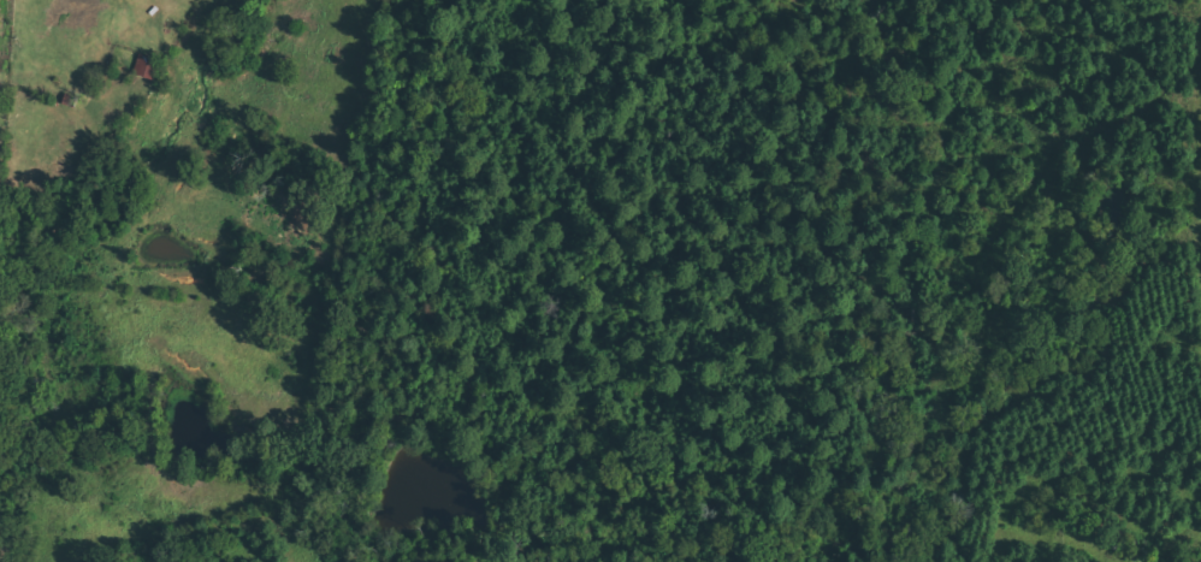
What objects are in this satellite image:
building: (148, 65)

